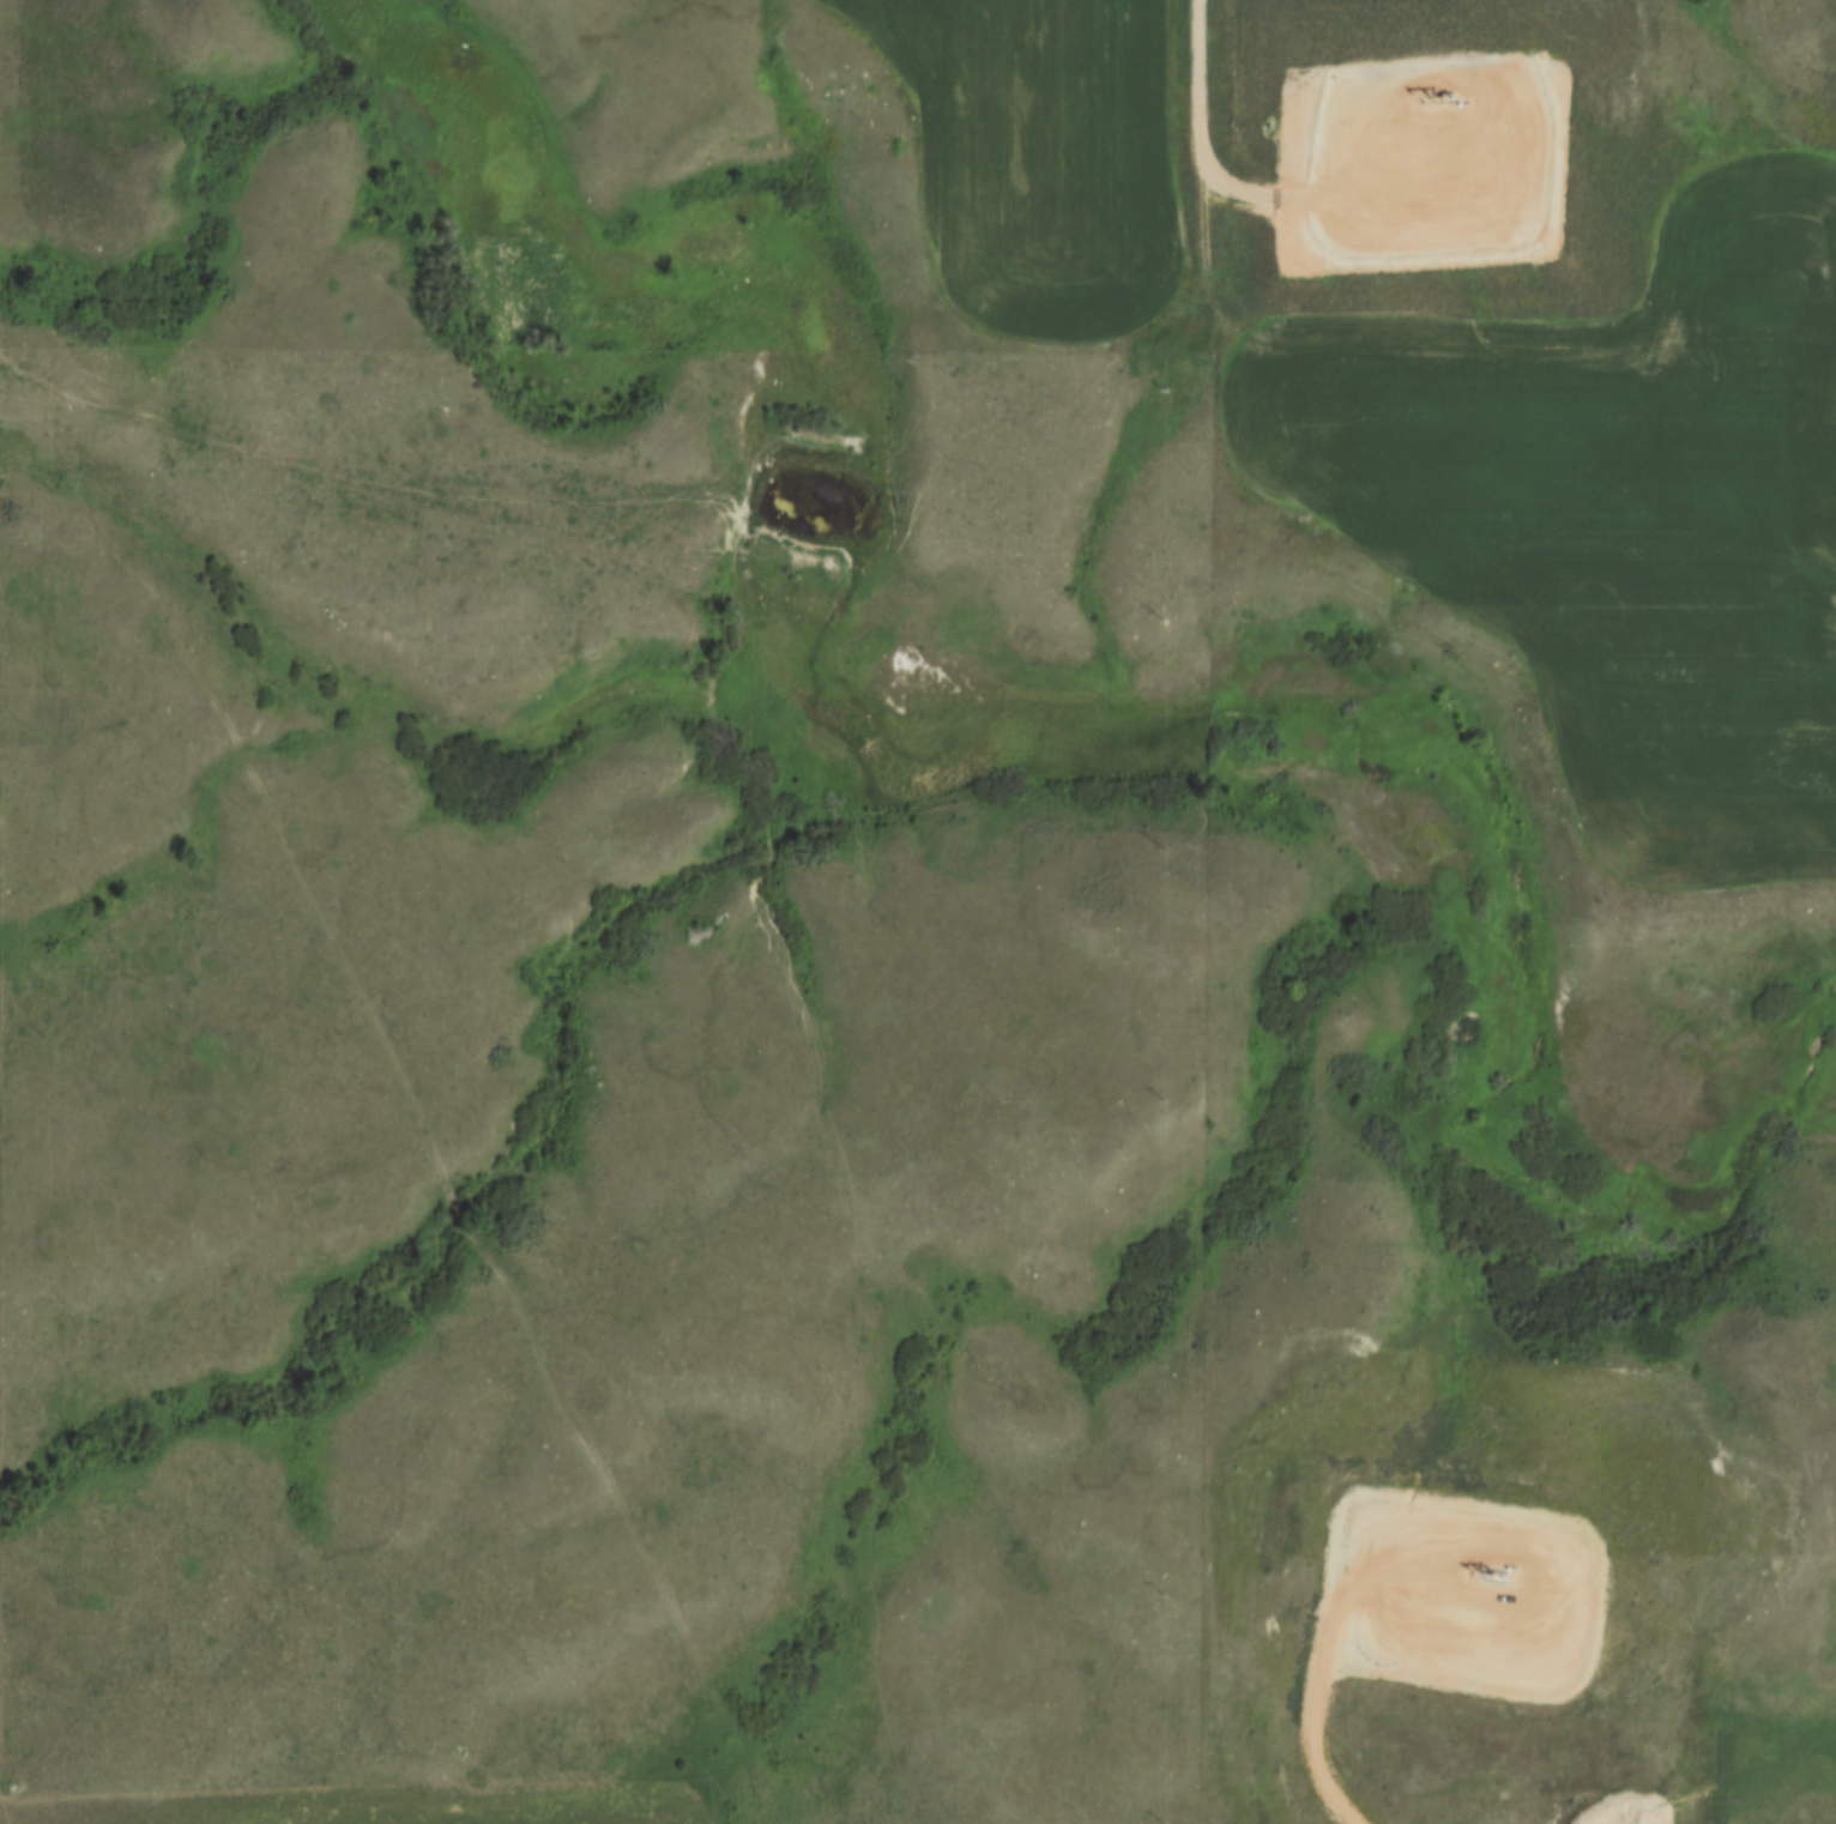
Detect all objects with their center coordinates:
petroleum well: (1485, 1565)
road: (1305, 1707)

